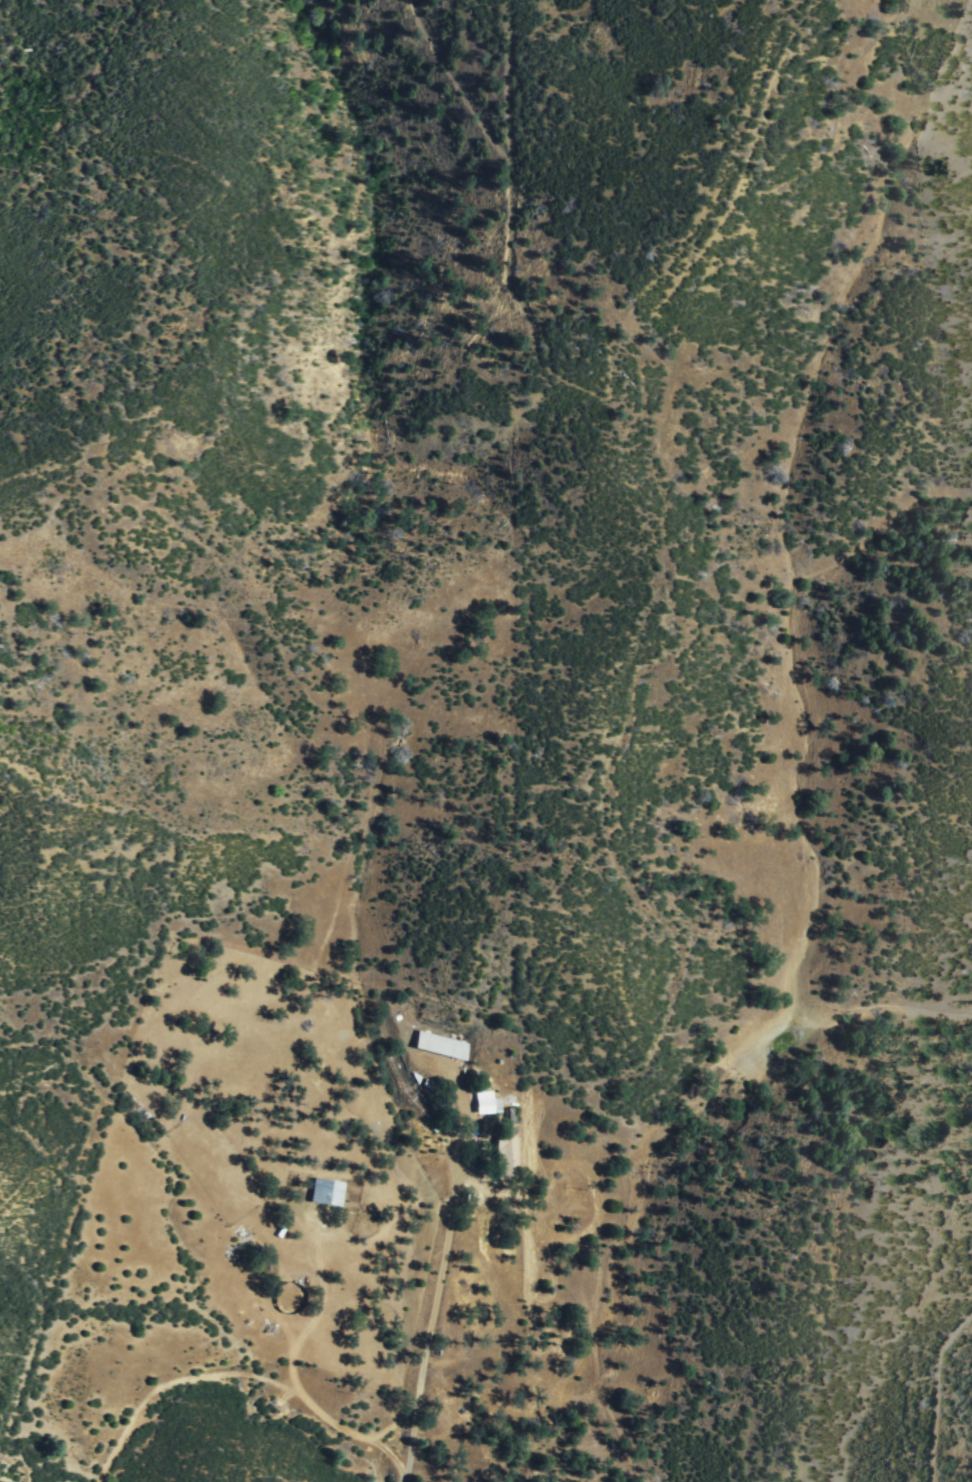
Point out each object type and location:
building: (442, 1046)
building: (488, 1104)
building: (325, 1194)

